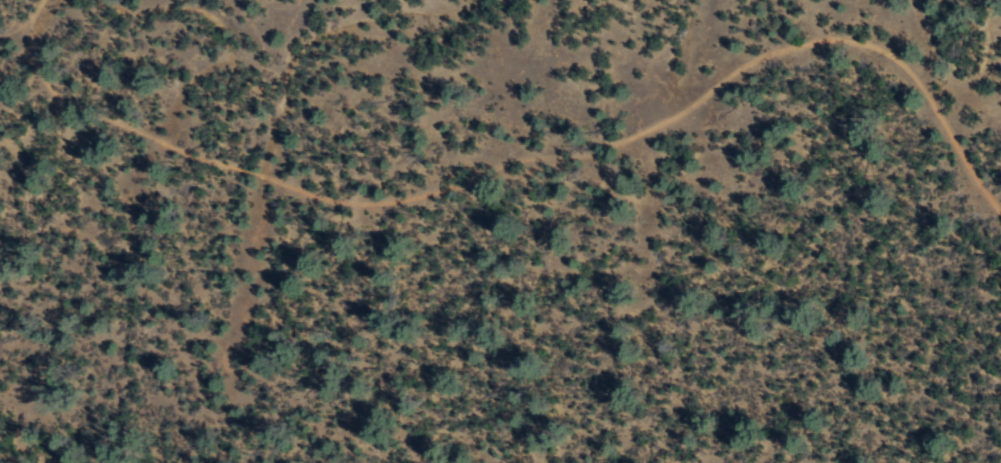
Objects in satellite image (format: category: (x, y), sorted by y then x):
road: (878, 44)
road: (645, 66)
road: (291, 92)
road: (588, 151)
road: (216, 162)

